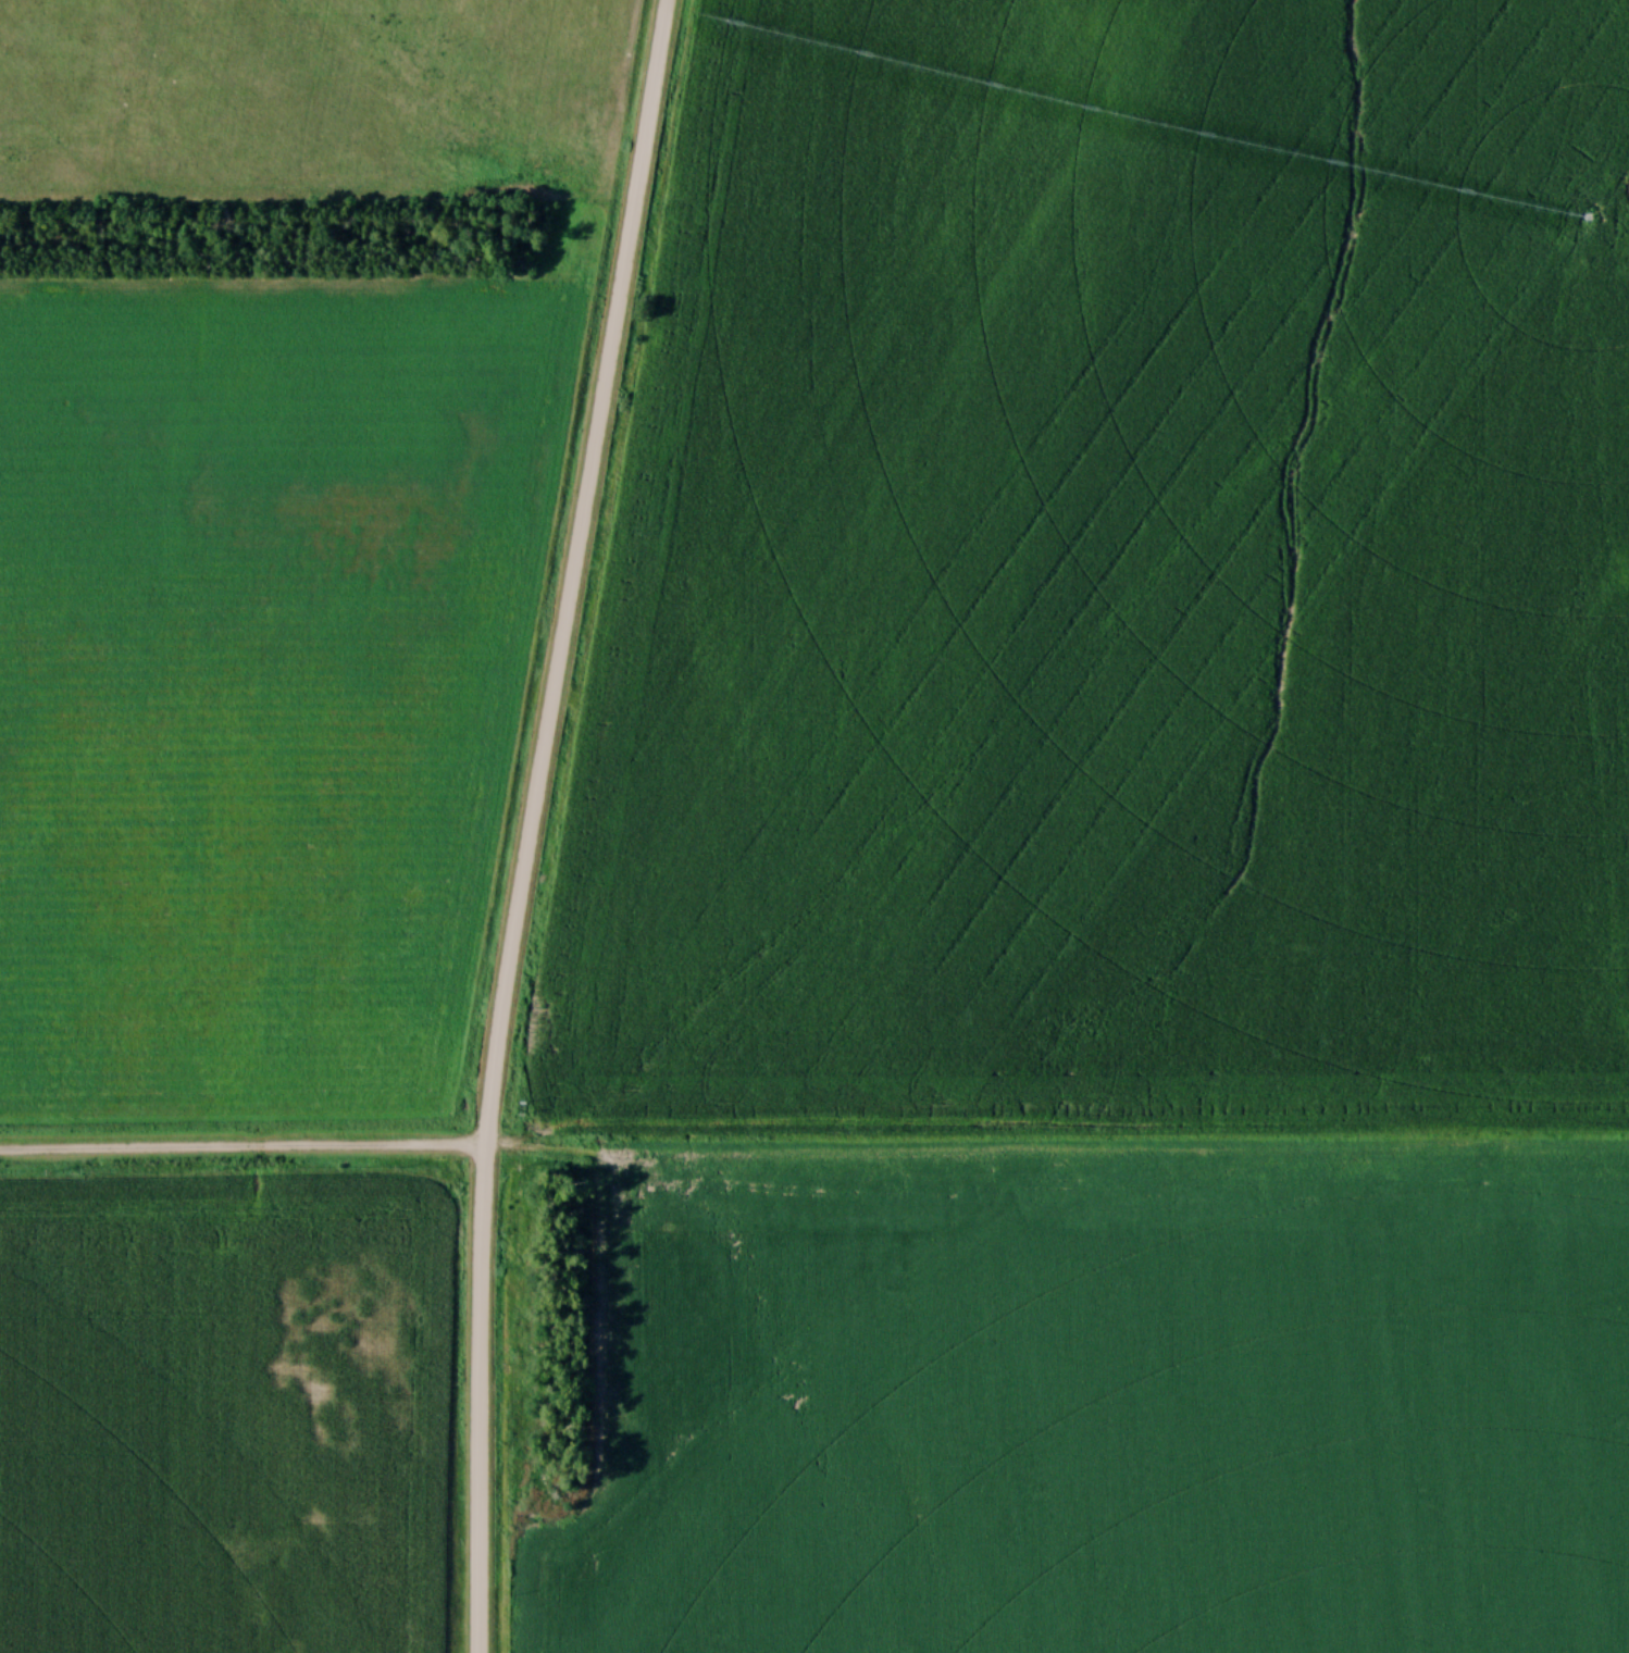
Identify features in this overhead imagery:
road: (535, 822)
road: (246, 1145)

